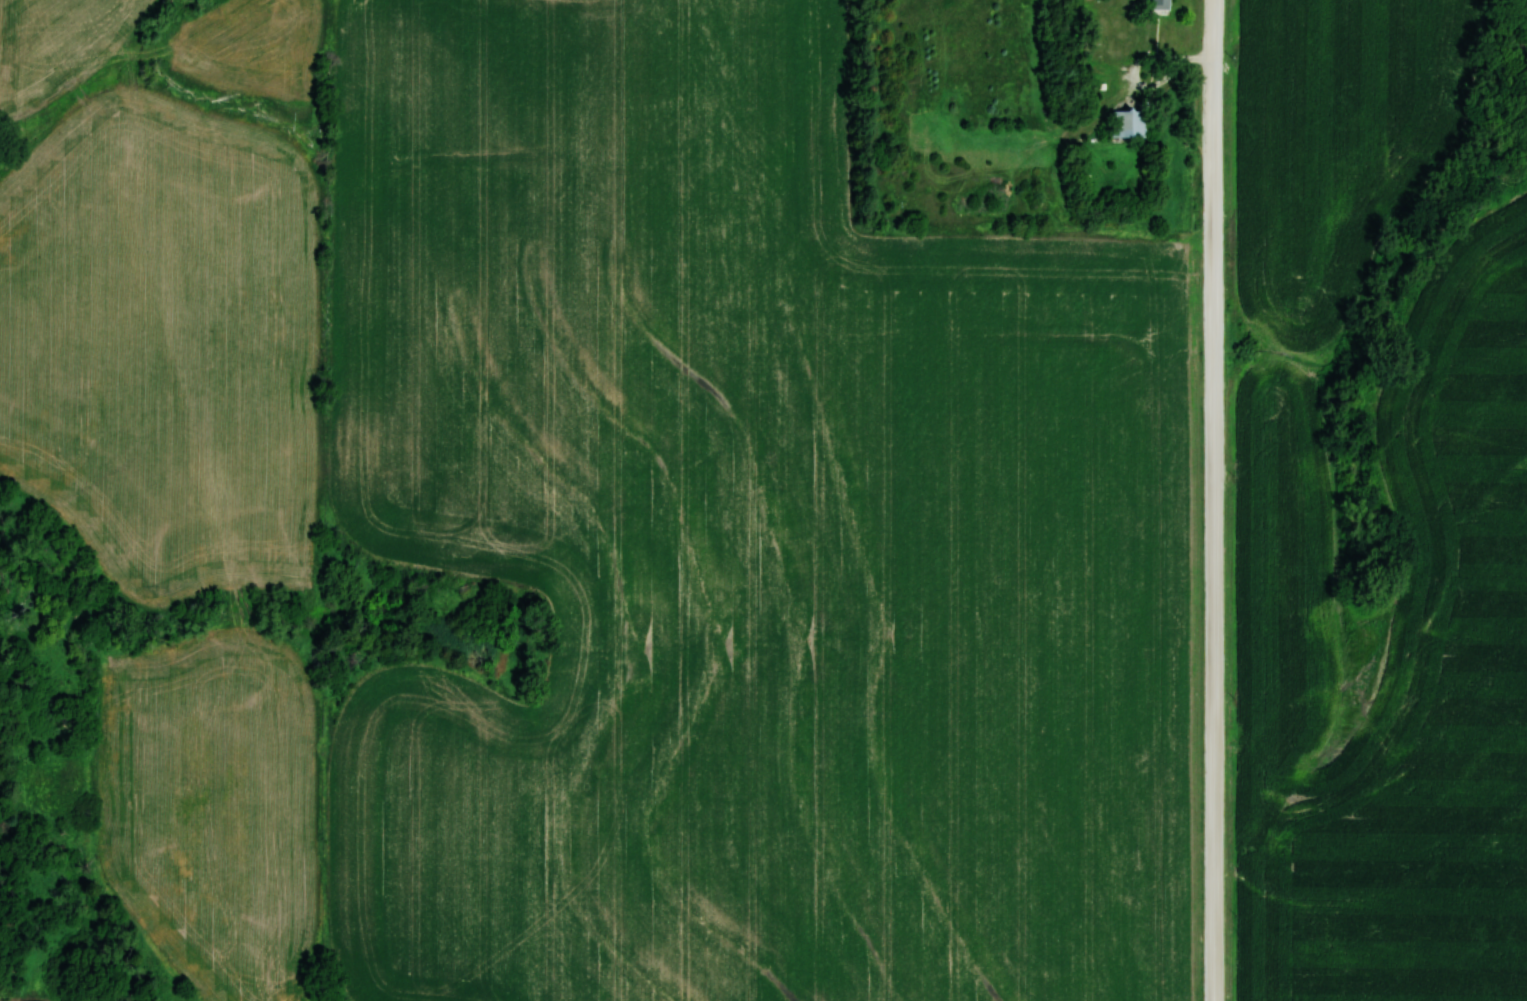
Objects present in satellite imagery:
building: (1158, 5)
road: (1210, 30)
building: (1129, 123)
road: (1211, 500)

